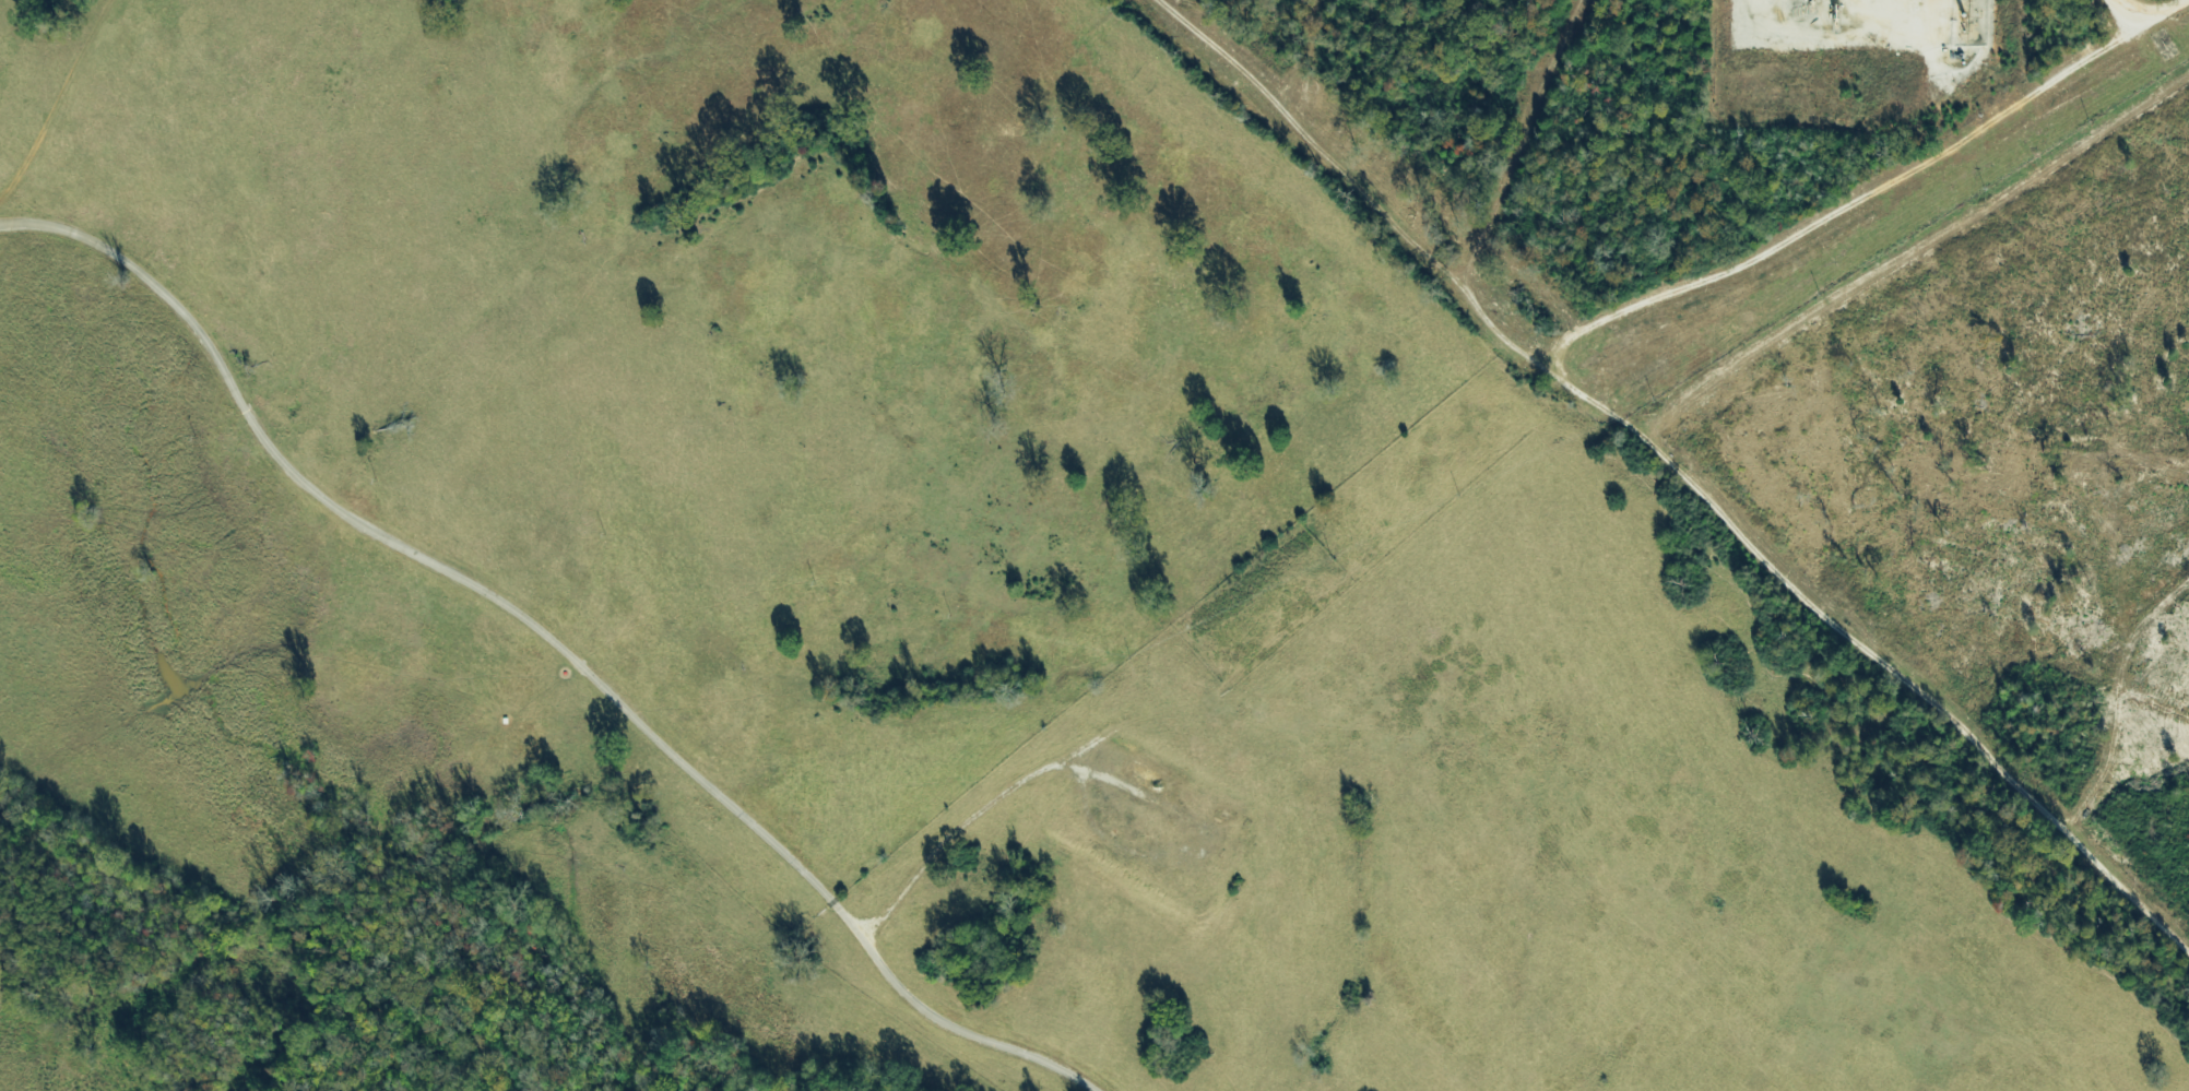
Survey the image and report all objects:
road: (2153, 19)

